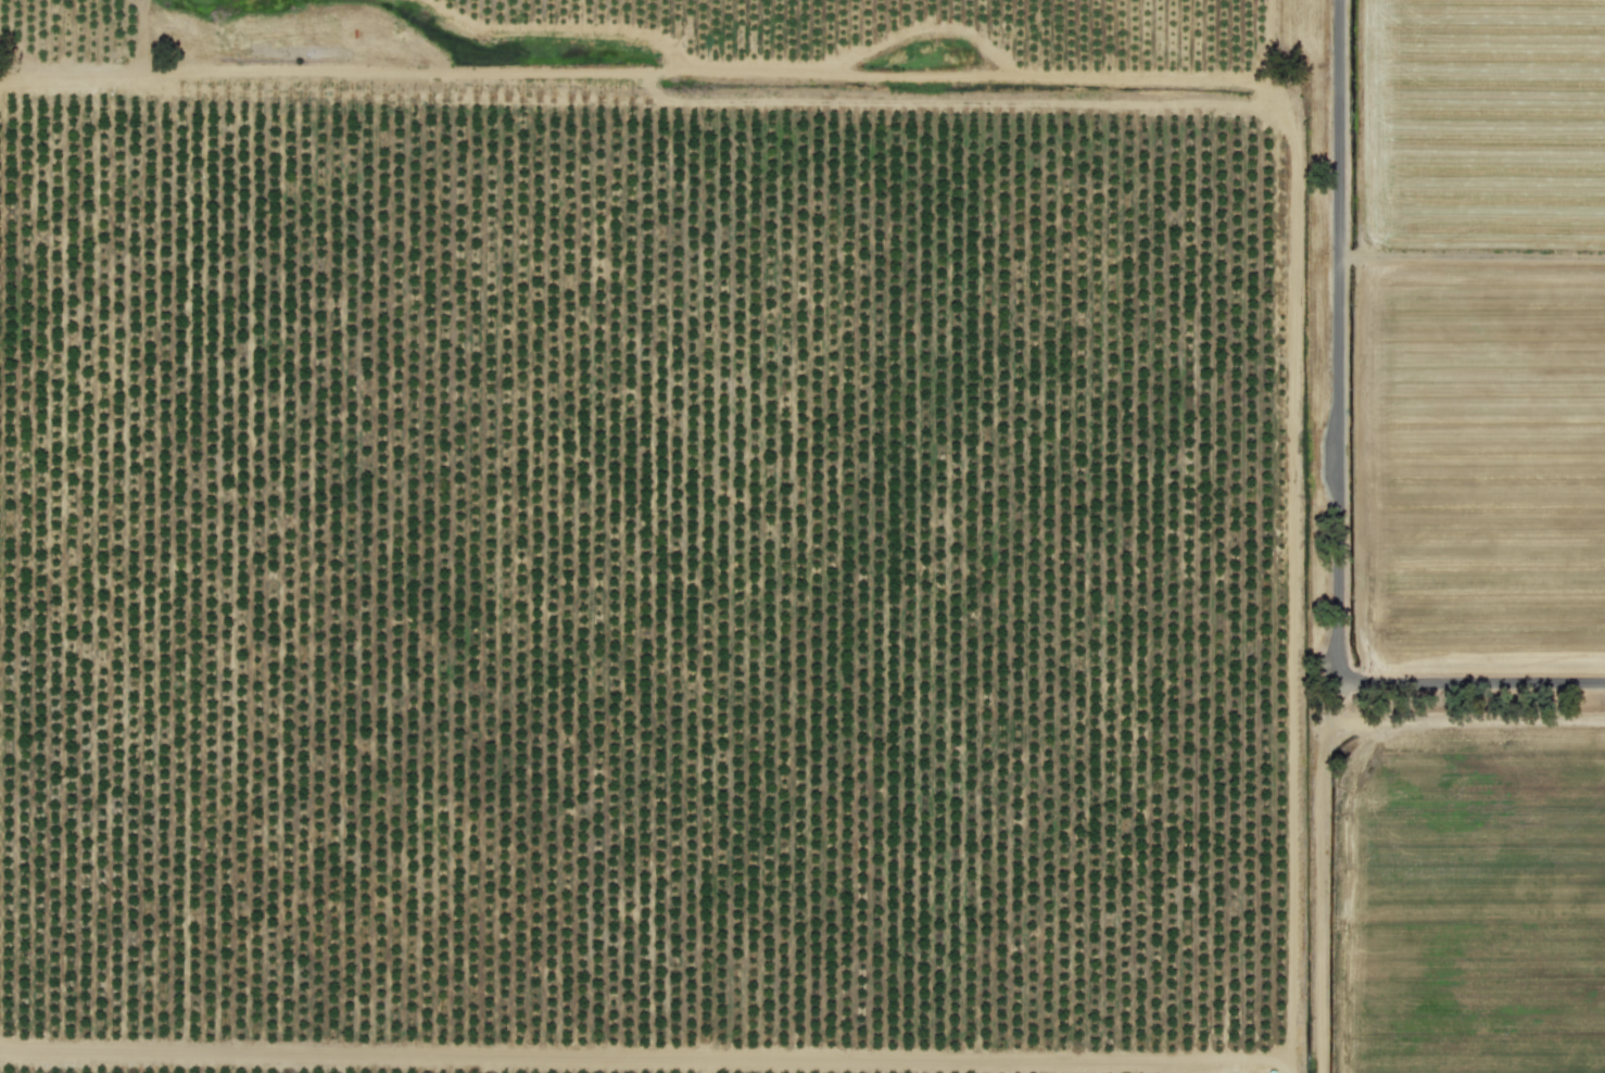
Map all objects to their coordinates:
road: (1471, 257)
road: (1339, 336)
road: (1298, 583)
road: (1471, 683)

